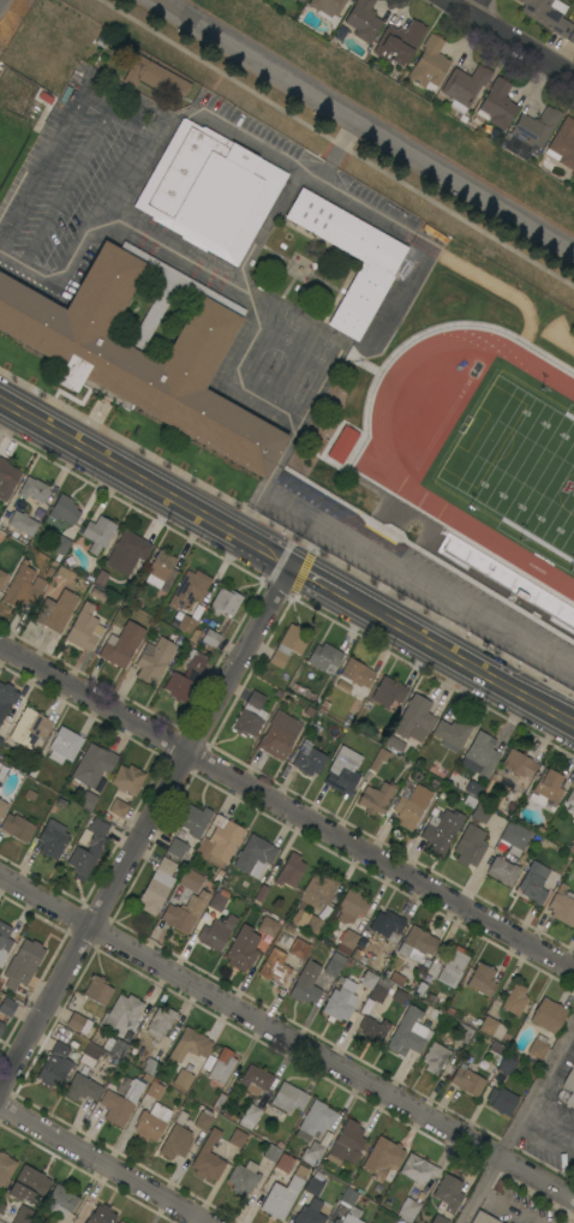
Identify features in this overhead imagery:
building: (300, 1)
road: (1, 2)
road: (473, 6)
building: (327, 10)
building: (546, 14)
building: (363, 19)
building: (570, 37)
road: (510, 38)
building: (399, 42)
building: (429, 62)
building: (154, 77)
building: (464, 88)
building: (496, 105)
road: (127, 115)
park: (8, 123)
road: (370, 125)
building: (534, 127)
building: (563, 144)
park: (8, 145)
road: (48, 156)
road: (298, 166)
parking lot: (73, 179)
road: (66, 185)
building: (209, 191)
building: (376, 269)
road: (244, 296)
building: (98, 358)
building: (341, 443)
track: (376, 464)
park: (518, 464)
building: (7, 478)
building: (34, 490)
building: (64, 511)
building: (23, 523)
building: (97, 533)
building: (60, 544)
building: (126, 553)
road: (286, 563)
building: (160, 569)
building: (1, 577)
parking lot: (415, 578)
road: (418, 579)
building: (506, 580)
building: (23, 586)
building: (189, 590)
building: (96, 595)
building: (225, 602)
building: (55, 610)
building: (184, 624)
building: (84, 628)
building: (210, 638)
building: (121, 644)
building: (287, 645)
building: (323, 656)
building: (154, 661)
building: (196, 663)
building: (357, 673)
building: (178, 687)
building: (388, 692)
building: (6, 698)
building: (250, 715)
building: (414, 720)
building: (29, 728)
building: (452, 734)
building: (279, 735)
building: (0, 736)
building: (0, 740)
building: (395, 744)
building: (64, 745)
building: (482, 753)
building: (307, 759)
building: (378, 759)
building: (94, 764)
building: (518, 764)
building: (434, 769)
building: (32, 771)
building: (342, 771)
building: (2, 772)
building: (127, 780)
building: (0, 786)
building: (546, 788)
building: (375, 798)
building: (570, 798)
building: (86, 800)
building: (2, 806)
building: (411, 807)
building: (118, 809)
road: (287, 809)
building: (480, 813)
building: (193, 819)
building: (17, 828)
road: (147, 829)
building: (440, 830)
building: (514, 837)
building: (53, 839)
building: (220, 841)
building: (470, 846)
building: (175, 847)
building: (88, 848)
building: (253, 854)
building: (503, 870)
building: (289, 871)
building: (190, 879)
building: (532, 884)
building: (156, 887)
building: (261, 894)
building: (219, 901)
building: (313, 901)
building: (562, 906)
building: (349, 907)
building: (184, 912)
building: (387, 925)
building: (268, 926)
building: (216, 932)
building: (4, 941)
building: (283, 942)
building: (346, 942)
building: (415, 944)
building: (241, 949)
building: (299, 949)
building: (23, 964)
building: (334, 965)
building: (275, 967)
building: (453, 967)
building: (396, 978)
building: (367, 979)
building: (482, 979)
building: (305, 984)
building: (97, 990)
building: (378, 990)
building: (399, 997)
building: (514, 1000)
building: (340, 1001)
building: (8, 1006)
building: (122, 1013)
building: (548, 1015)
building: (160, 1021)
building: (79, 1022)
building: (1, 1026)
building: (491, 1027)
building: (372, 1030)
building: (407, 1033)
building: (462, 1033)
road: (286, 1038)
building: (190, 1045)
building: (115, 1046)
building: (538, 1048)
building: (90, 1054)
building: (434, 1058)
building: (154, 1061)
building: (54, 1066)
building: (220, 1066)
building: (506, 1066)
building: (183, 1079)
building: (255, 1080)
building: (467, 1081)
building: (82, 1087)
building: (569, 1087)
building: (154, 1090)
building: (288, 1098)
building: (501, 1100)
building: (121, 1103)
building: (249, 1116)
building: (203, 1120)
building: (315, 1121)
building: (151, 1122)
road: (519, 1124)
building: (237, 1138)
building: (175, 1143)
building: (346, 1144)
building: (270, 1153)
building: (312, 1155)
building: (208, 1157)
building: (382, 1158)
building: (573, 1162)
building: (283, 1163)
road: (101, 1164)
building: (5, 1169)
building: (418, 1169)
building: (243, 1177)
building: (313, 1183)
building: (28, 1185)
building: (448, 1193)
building: (281, 1198)
building: (60, 1200)
building: (348, 1203)
building: (407, 1210)
building: (310, 1212)
building: (23, 1215)
building: (101, 1215)
building: (483, 1218)
building: (438, 1219)
building: (31, 1222)
building: (120, 1222)

